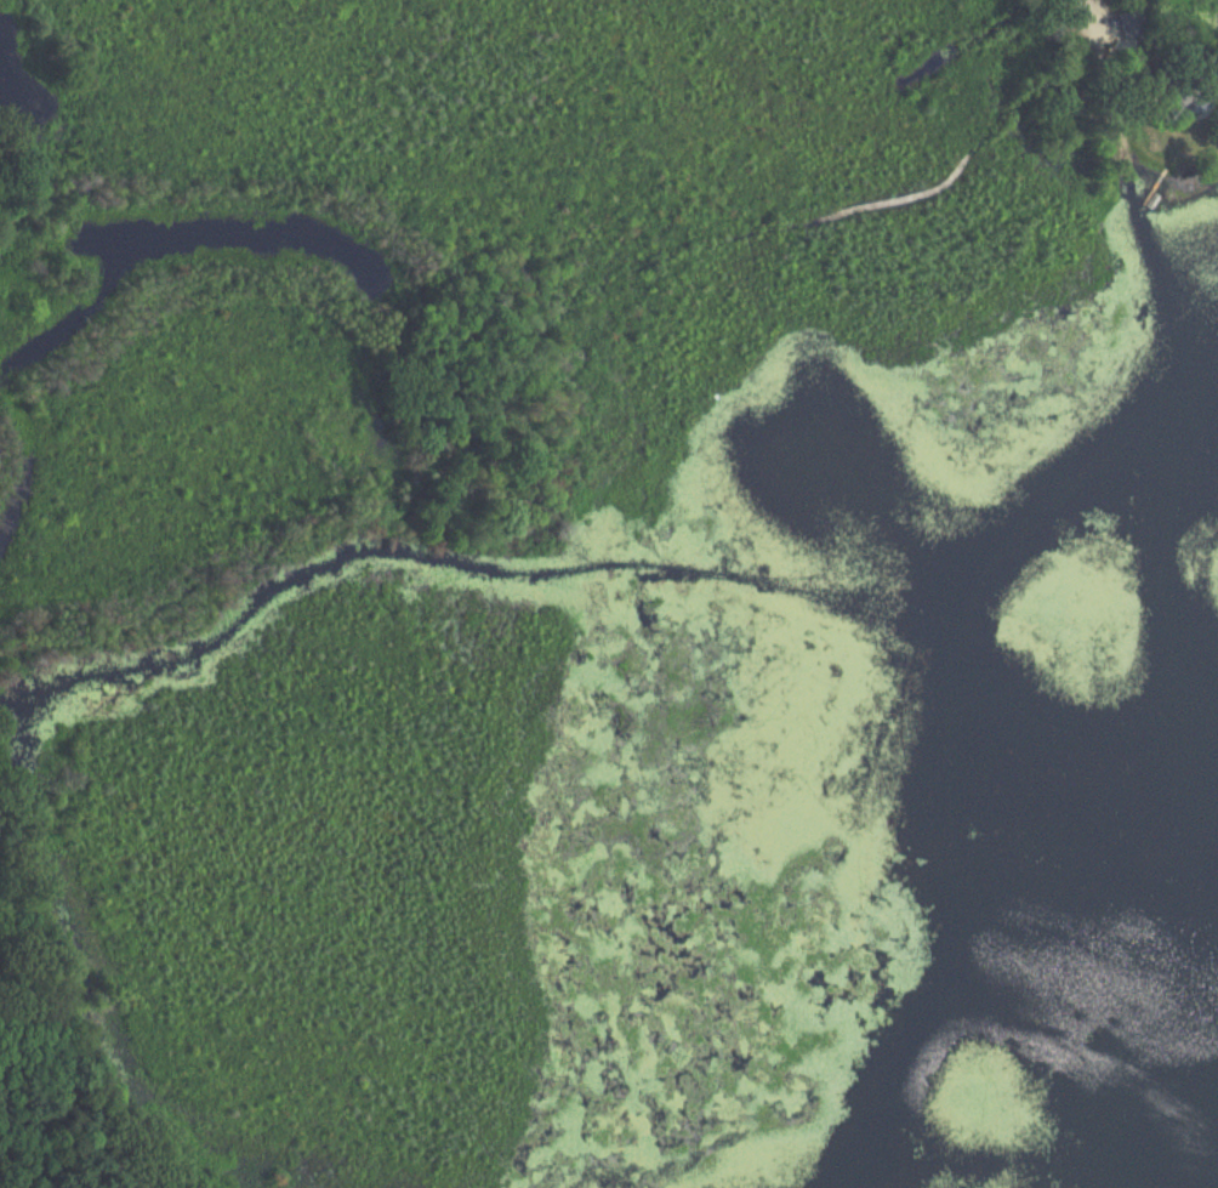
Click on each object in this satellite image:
road: (1077, 28)

